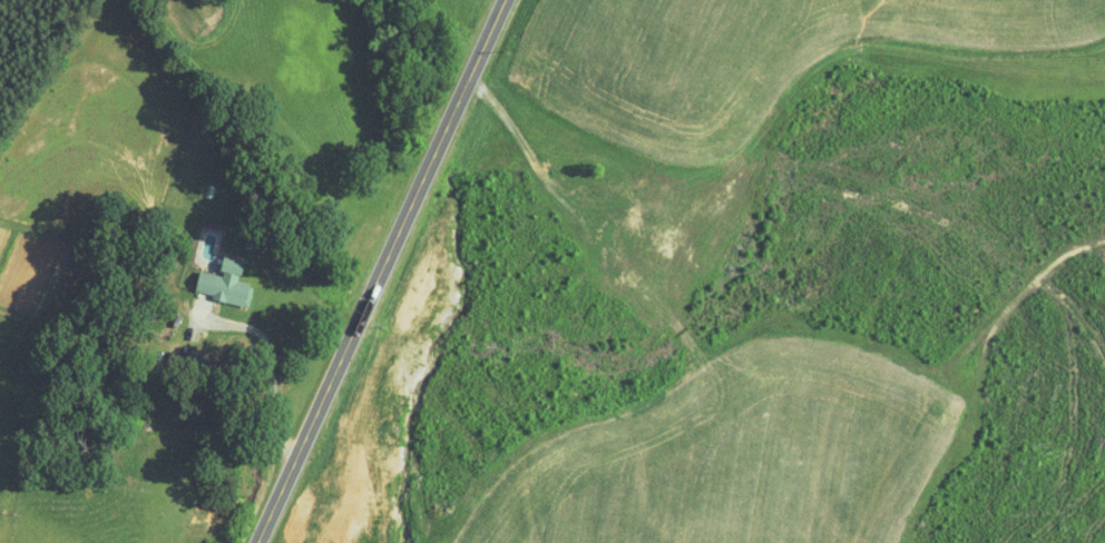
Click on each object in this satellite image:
road: (379, 271)
building: (235, 282)
road: (271, 357)

